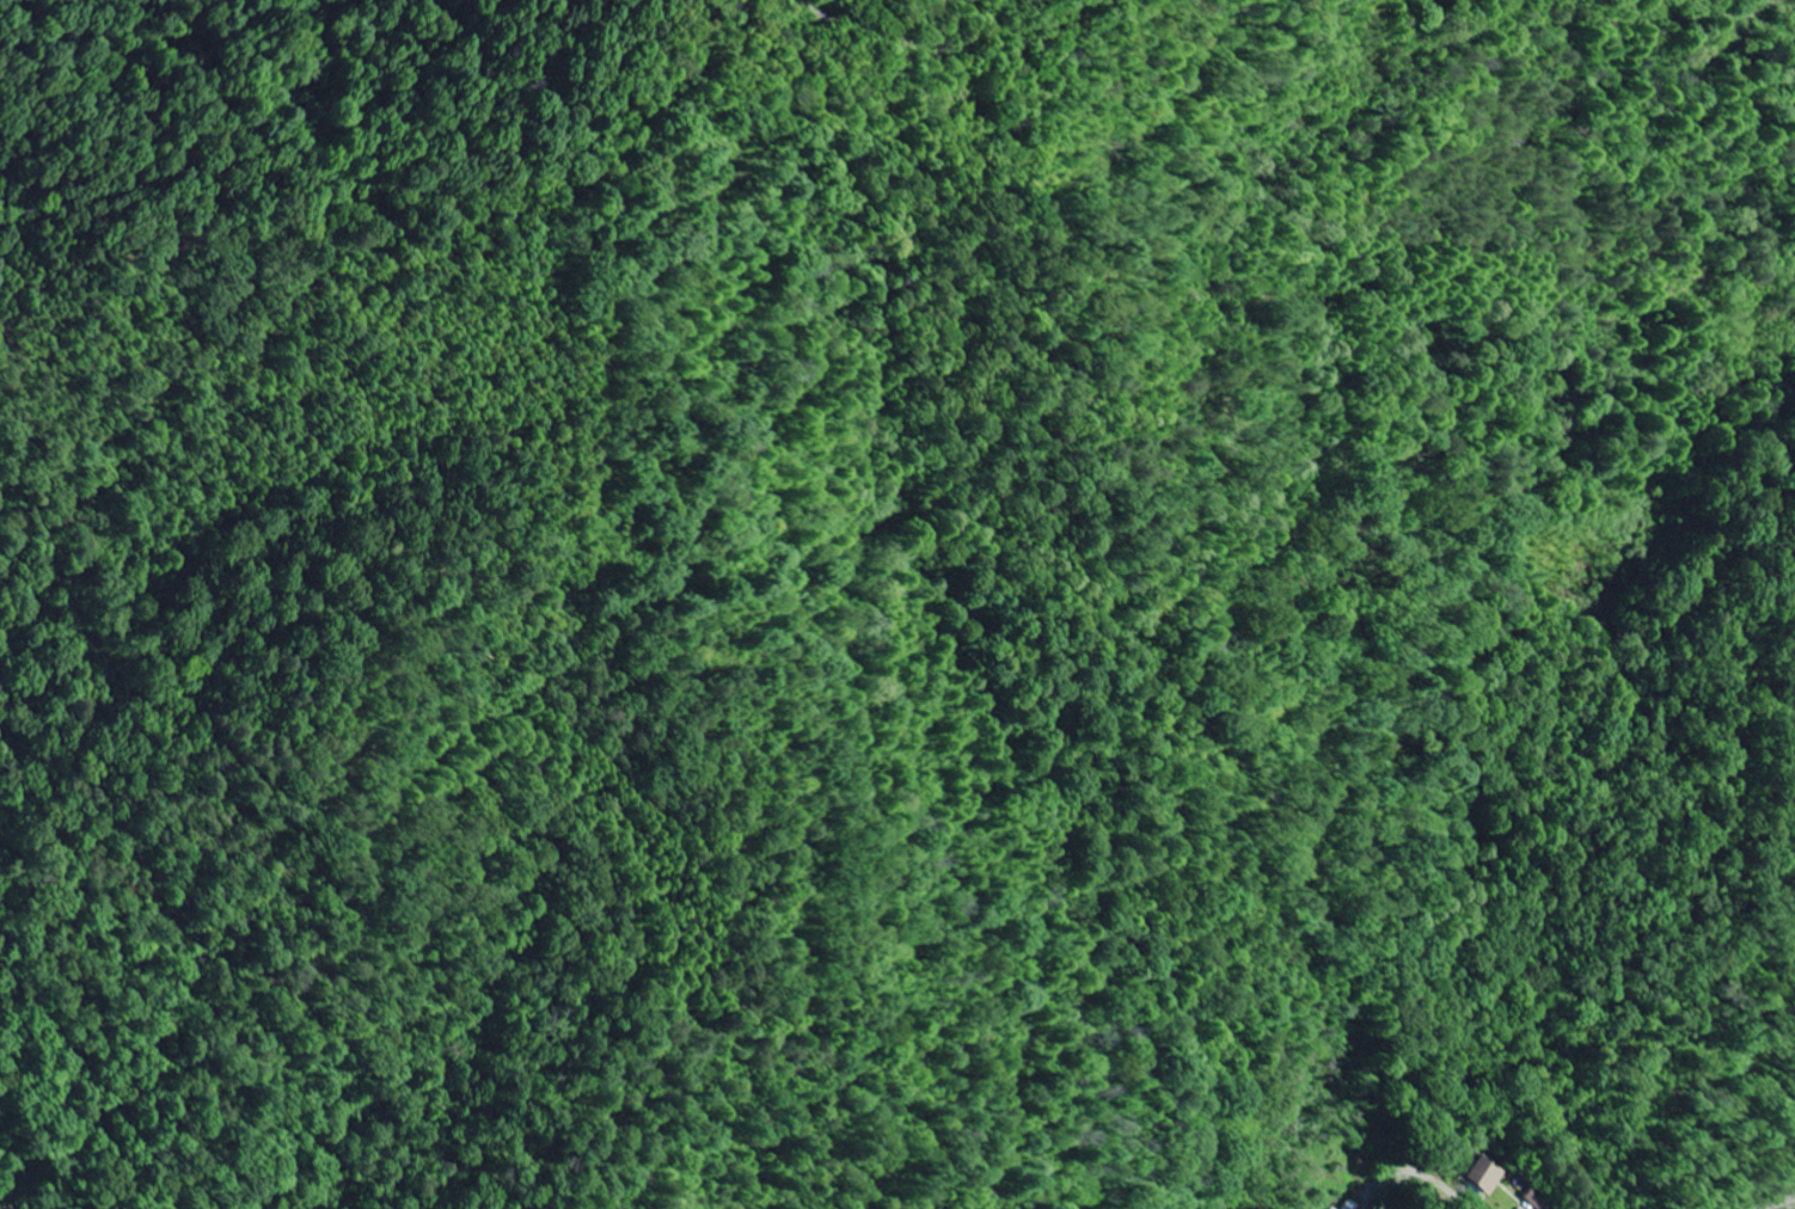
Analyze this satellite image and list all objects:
building: (1484, 1176)
building: (1537, 1199)
road: (1782, 1203)
building: (1350, 1205)

